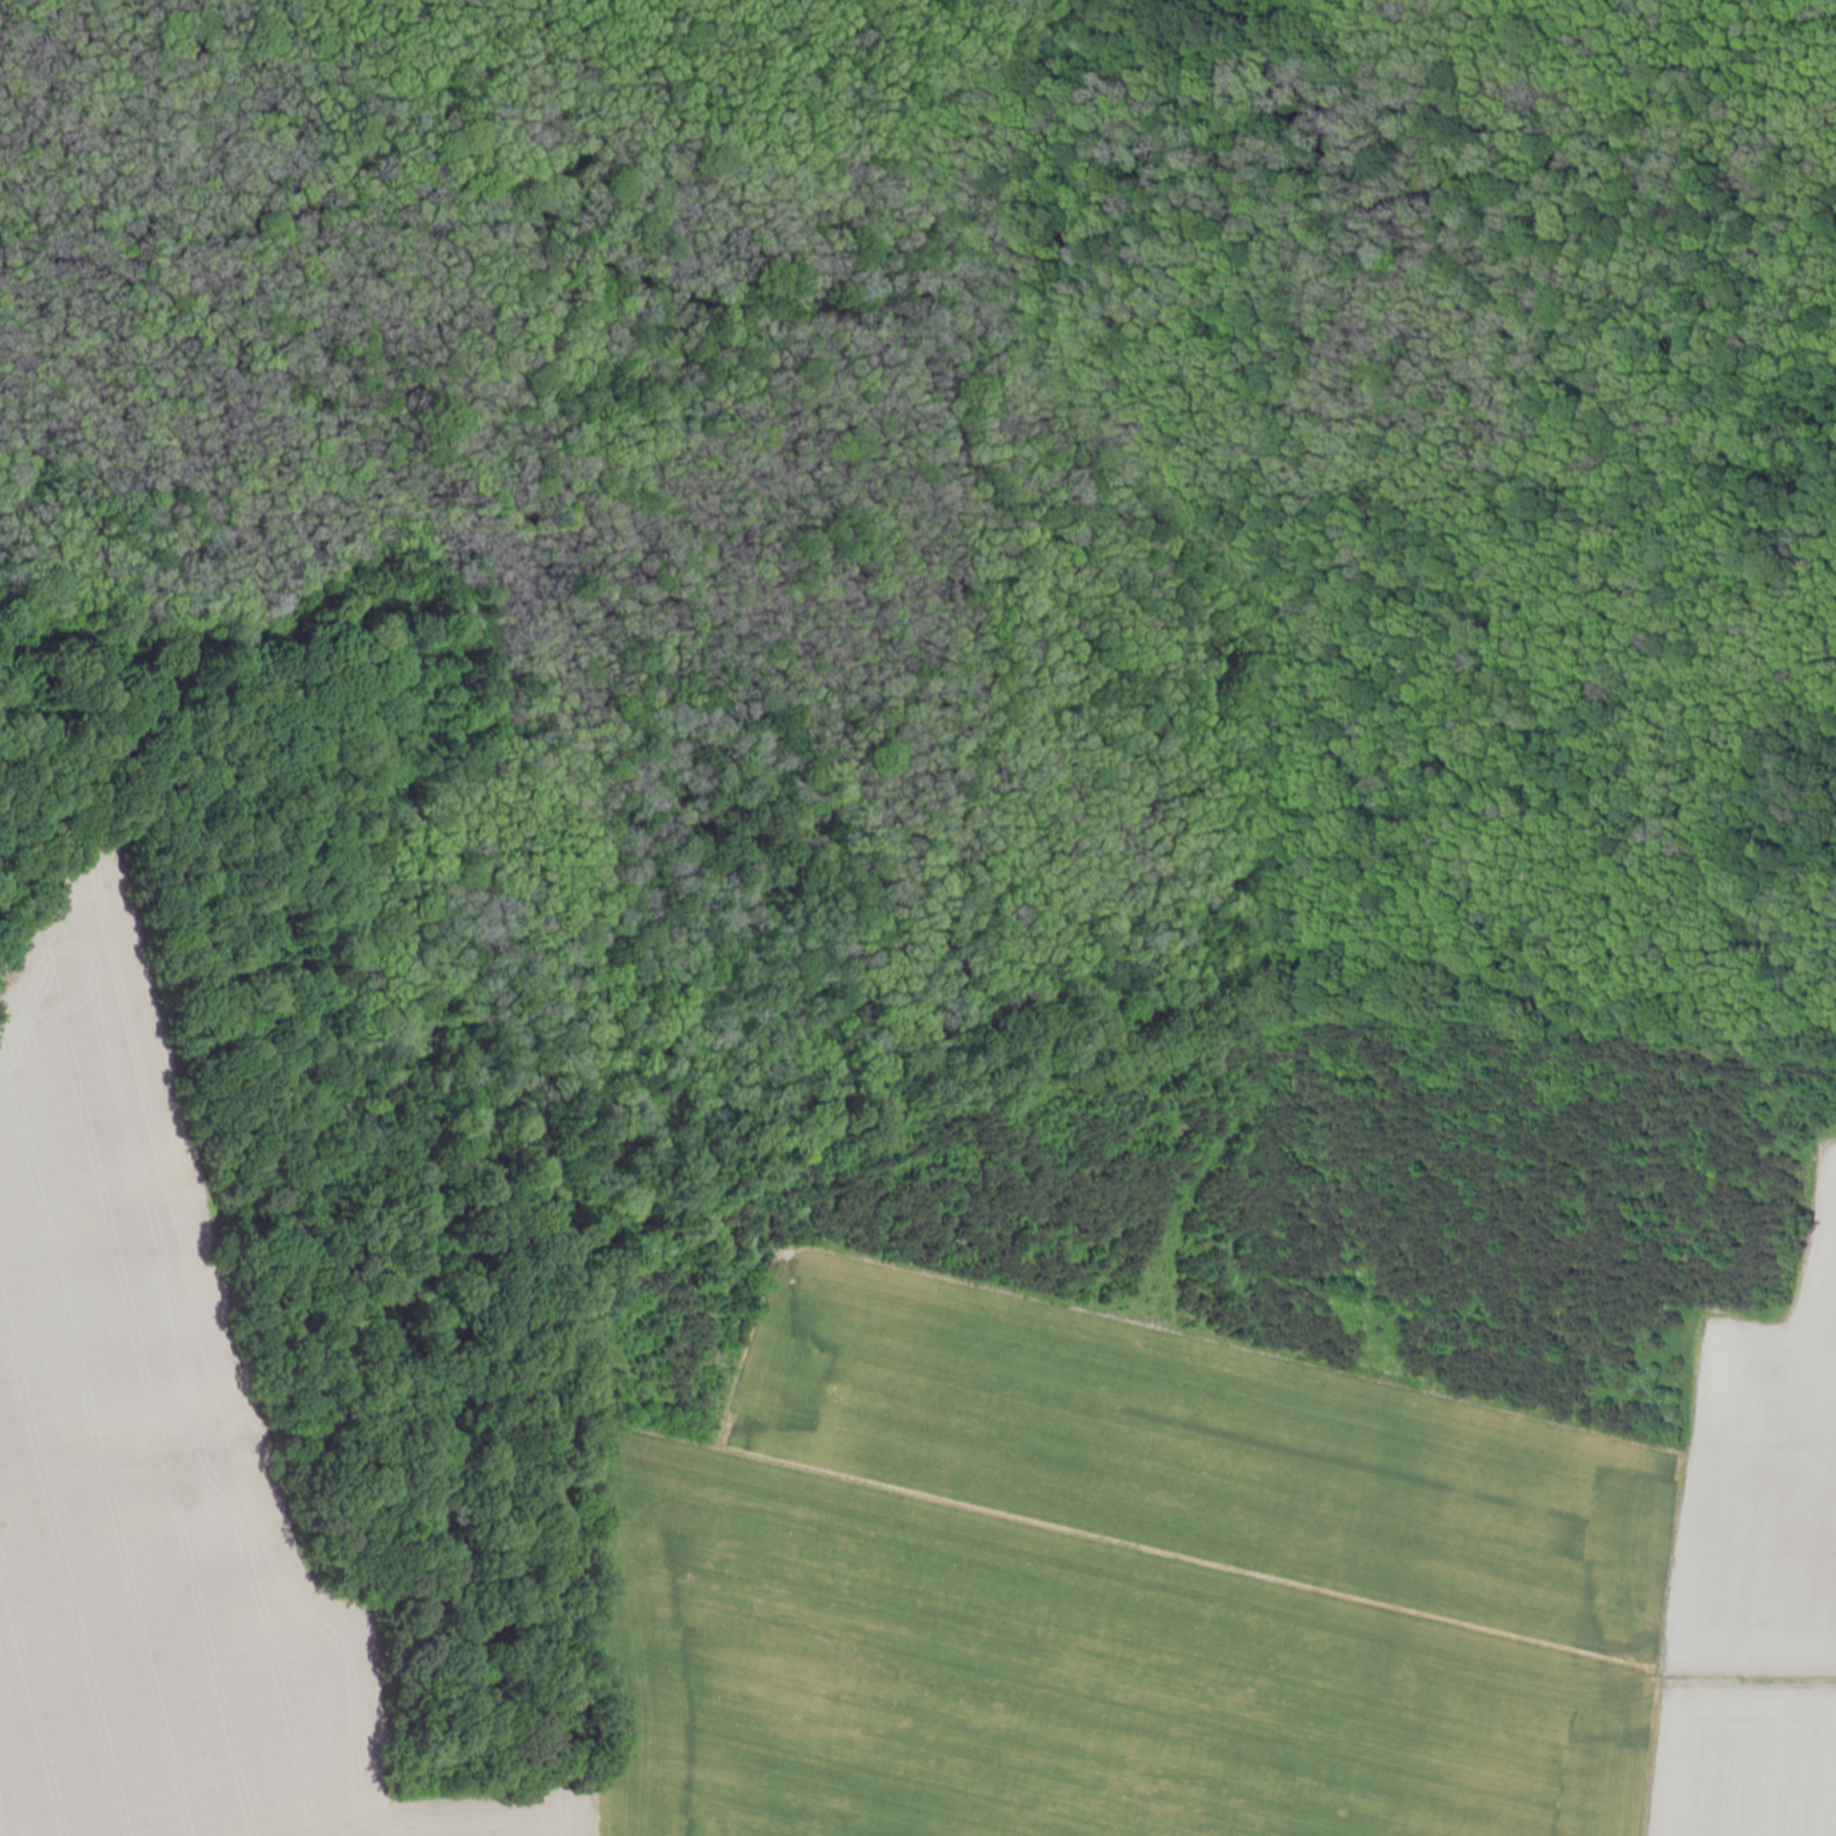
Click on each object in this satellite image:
park: (934, 583)

